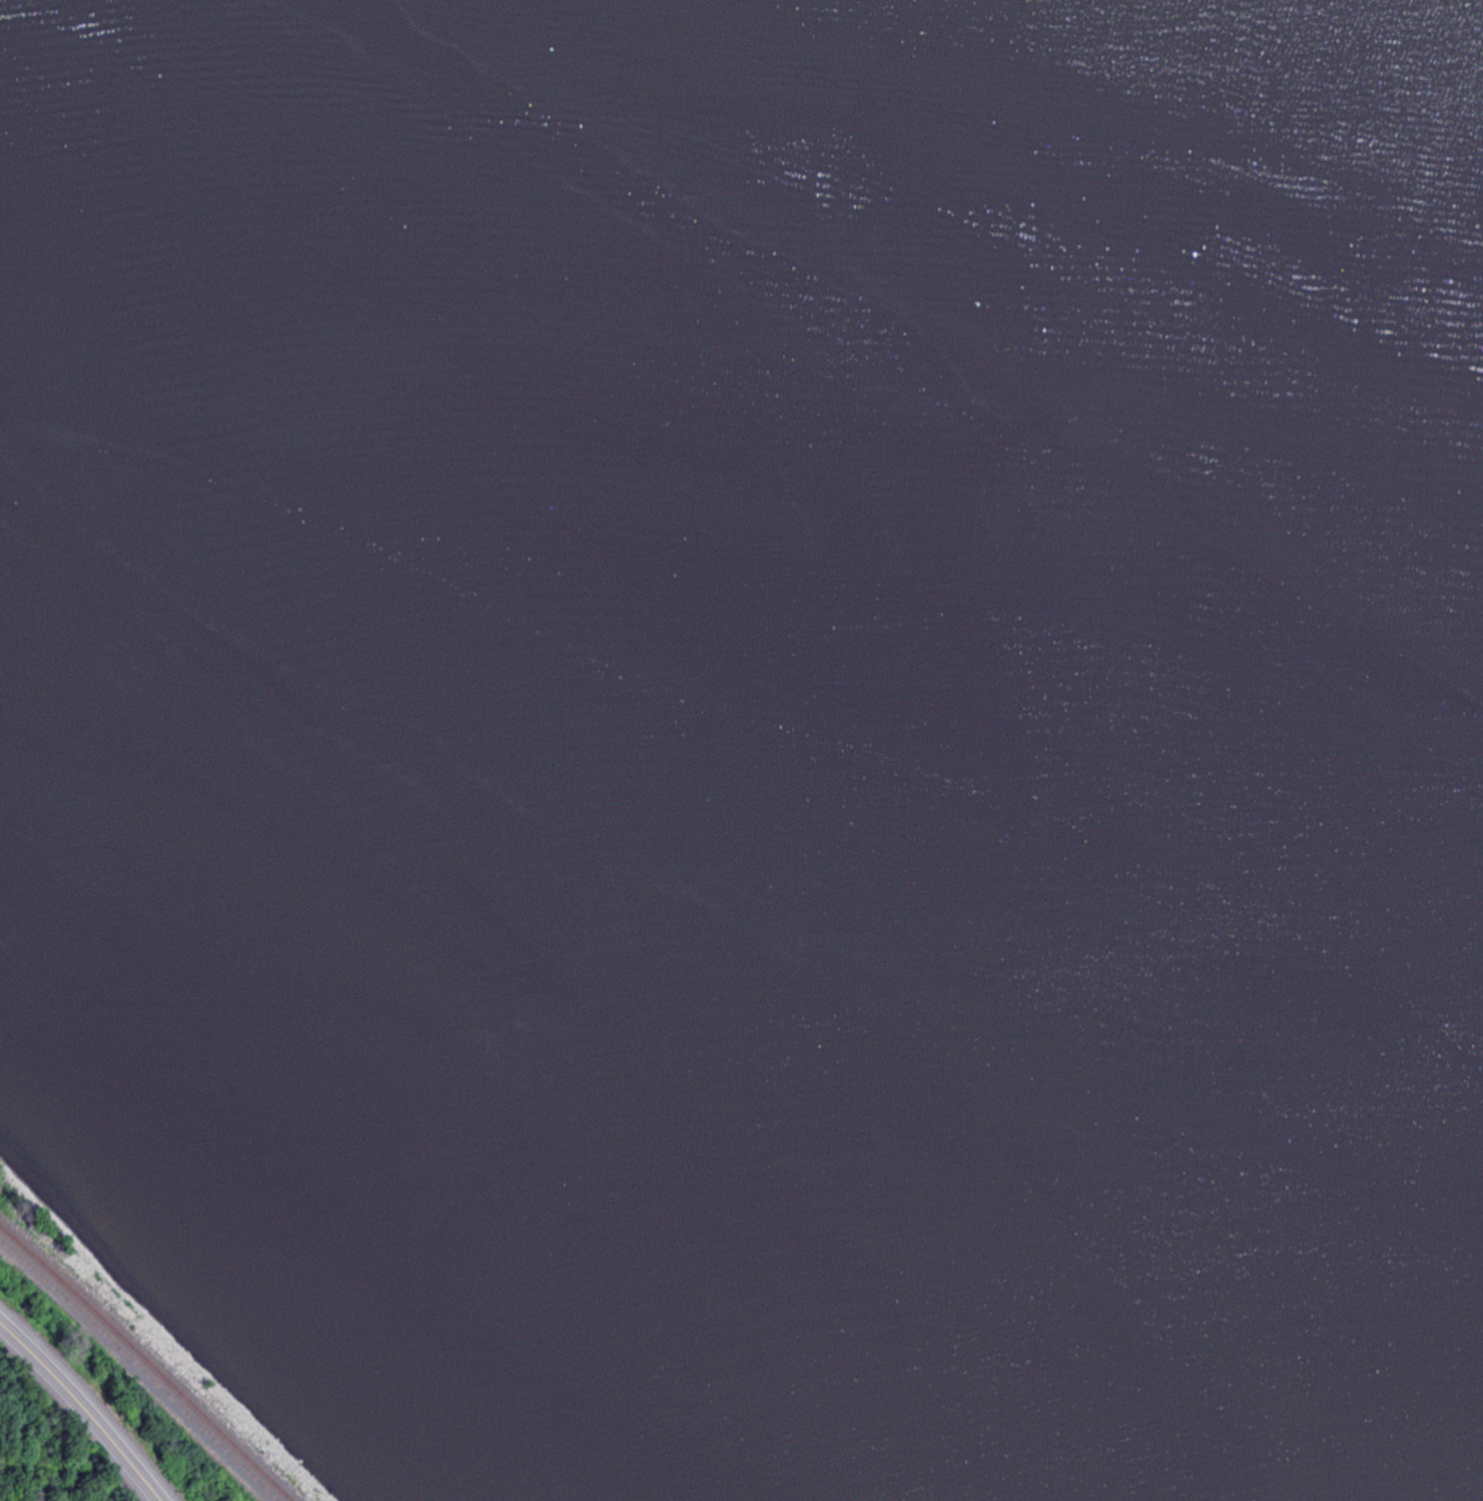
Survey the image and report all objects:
railway: (148, 1362)
railway: (140, 1369)
road: (82, 1408)

